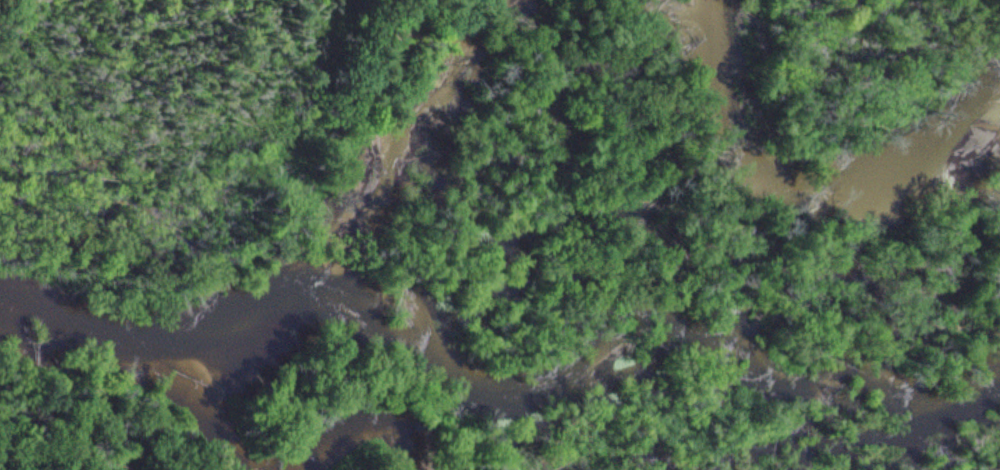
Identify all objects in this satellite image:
river: (803, 196)
river: (311, 276)
river: (224, 416)
river: (376, 454)

